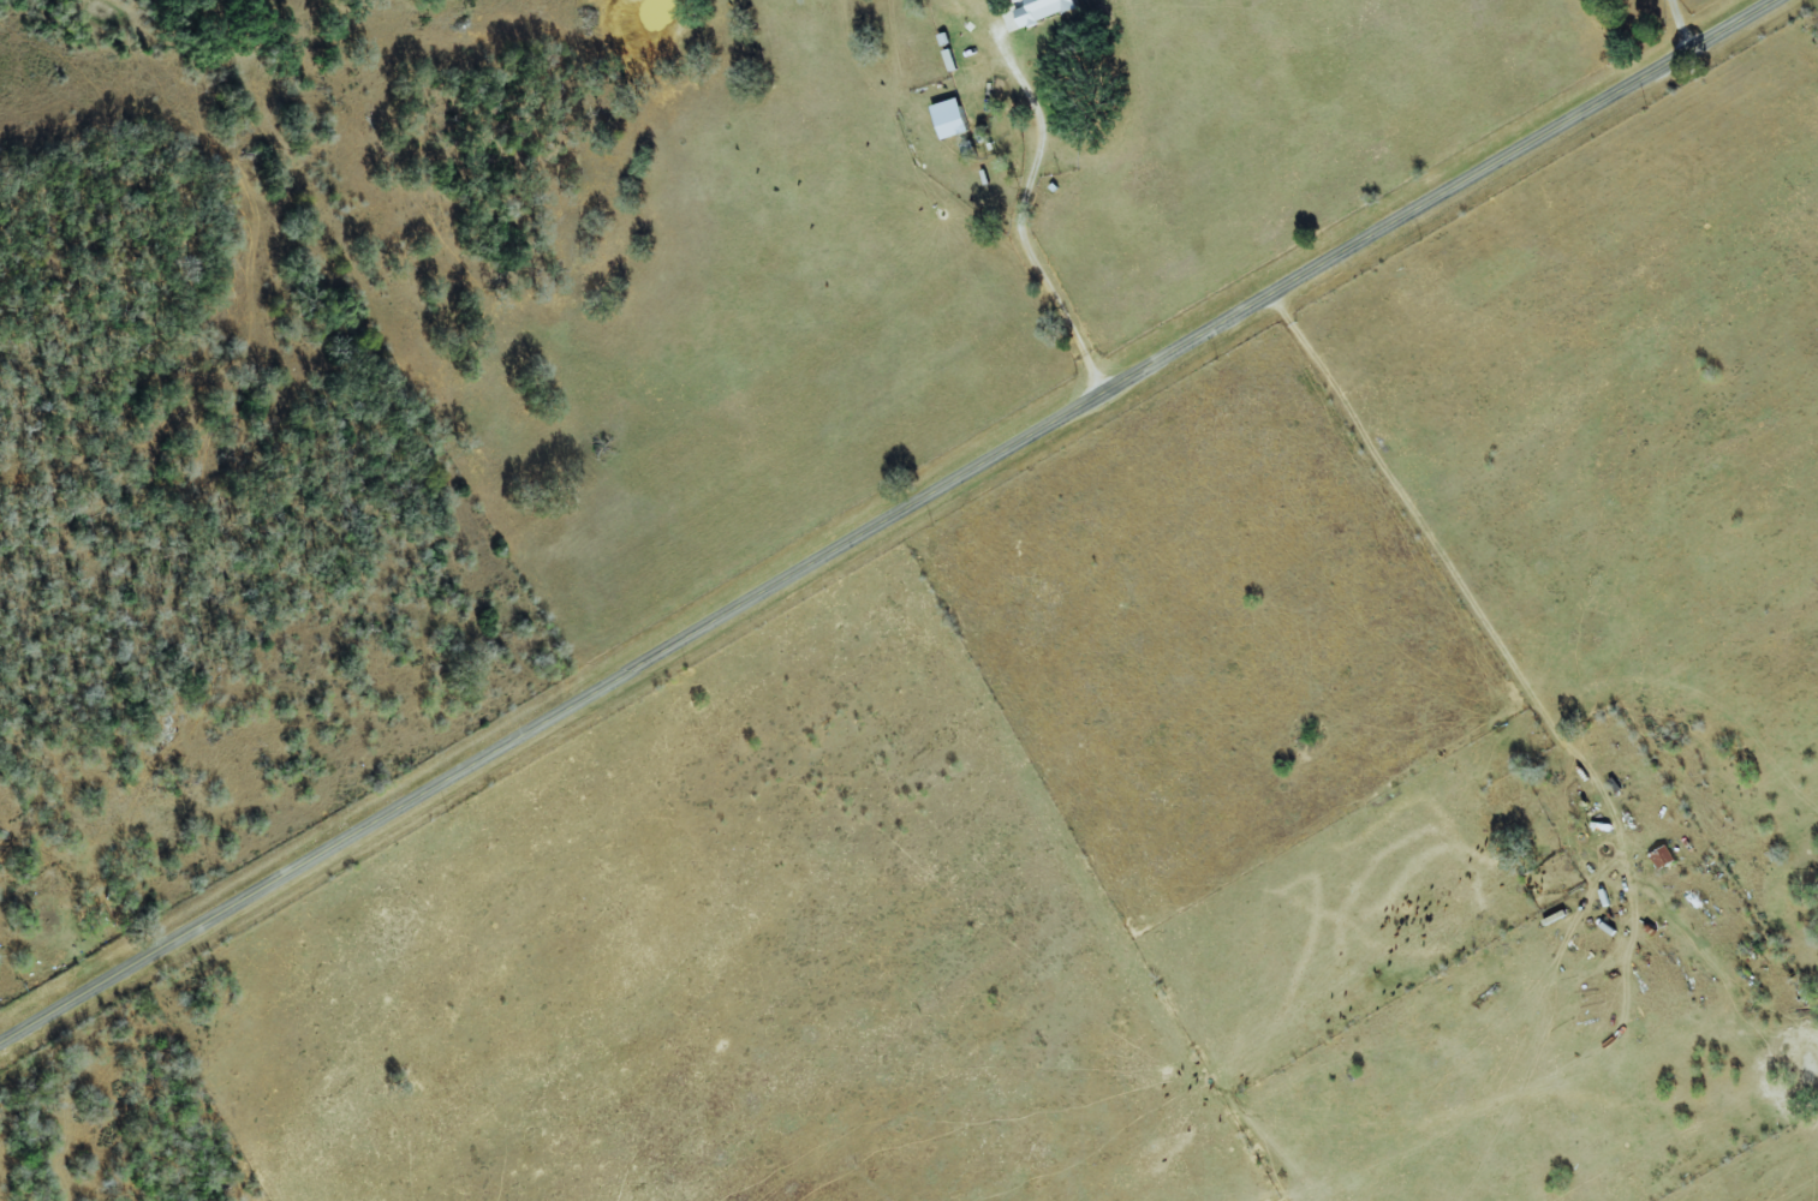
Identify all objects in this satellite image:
building: (1036, 12)
road: (1675, 29)
road: (1524, 61)
building: (947, 115)
road: (1021, 214)
road: (889, 519)
road: (1443, 563)

